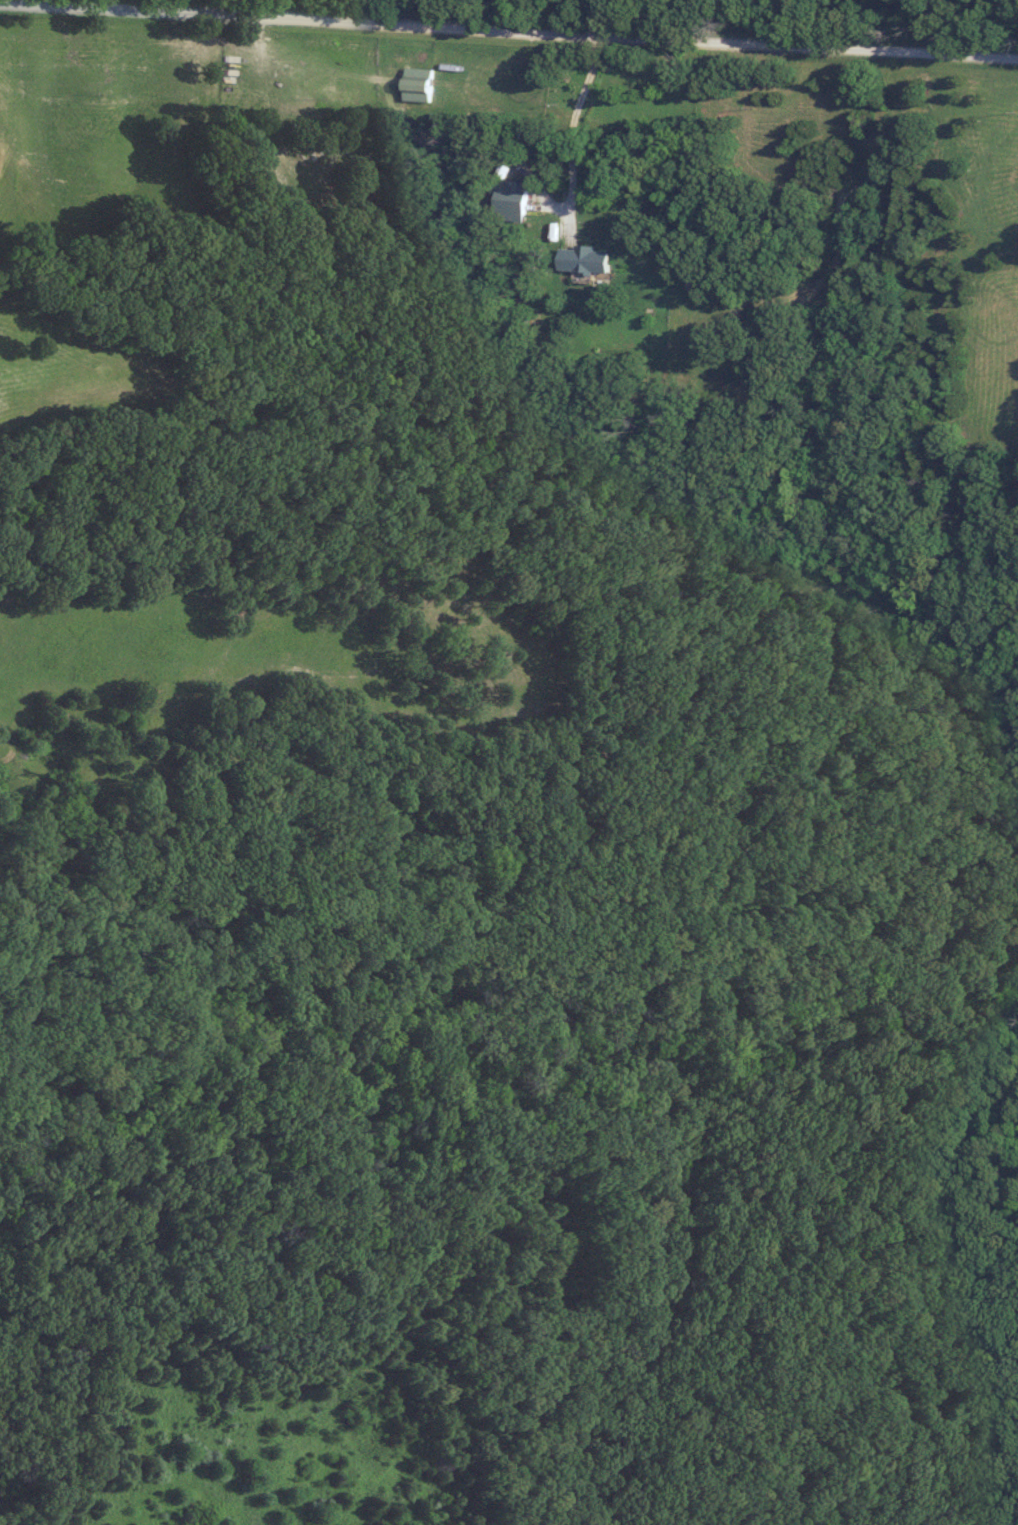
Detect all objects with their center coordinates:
road: (508, 33)
building: (420, 84)
road: (567, 140)
building: (513, 199)
building: (588, 259)

